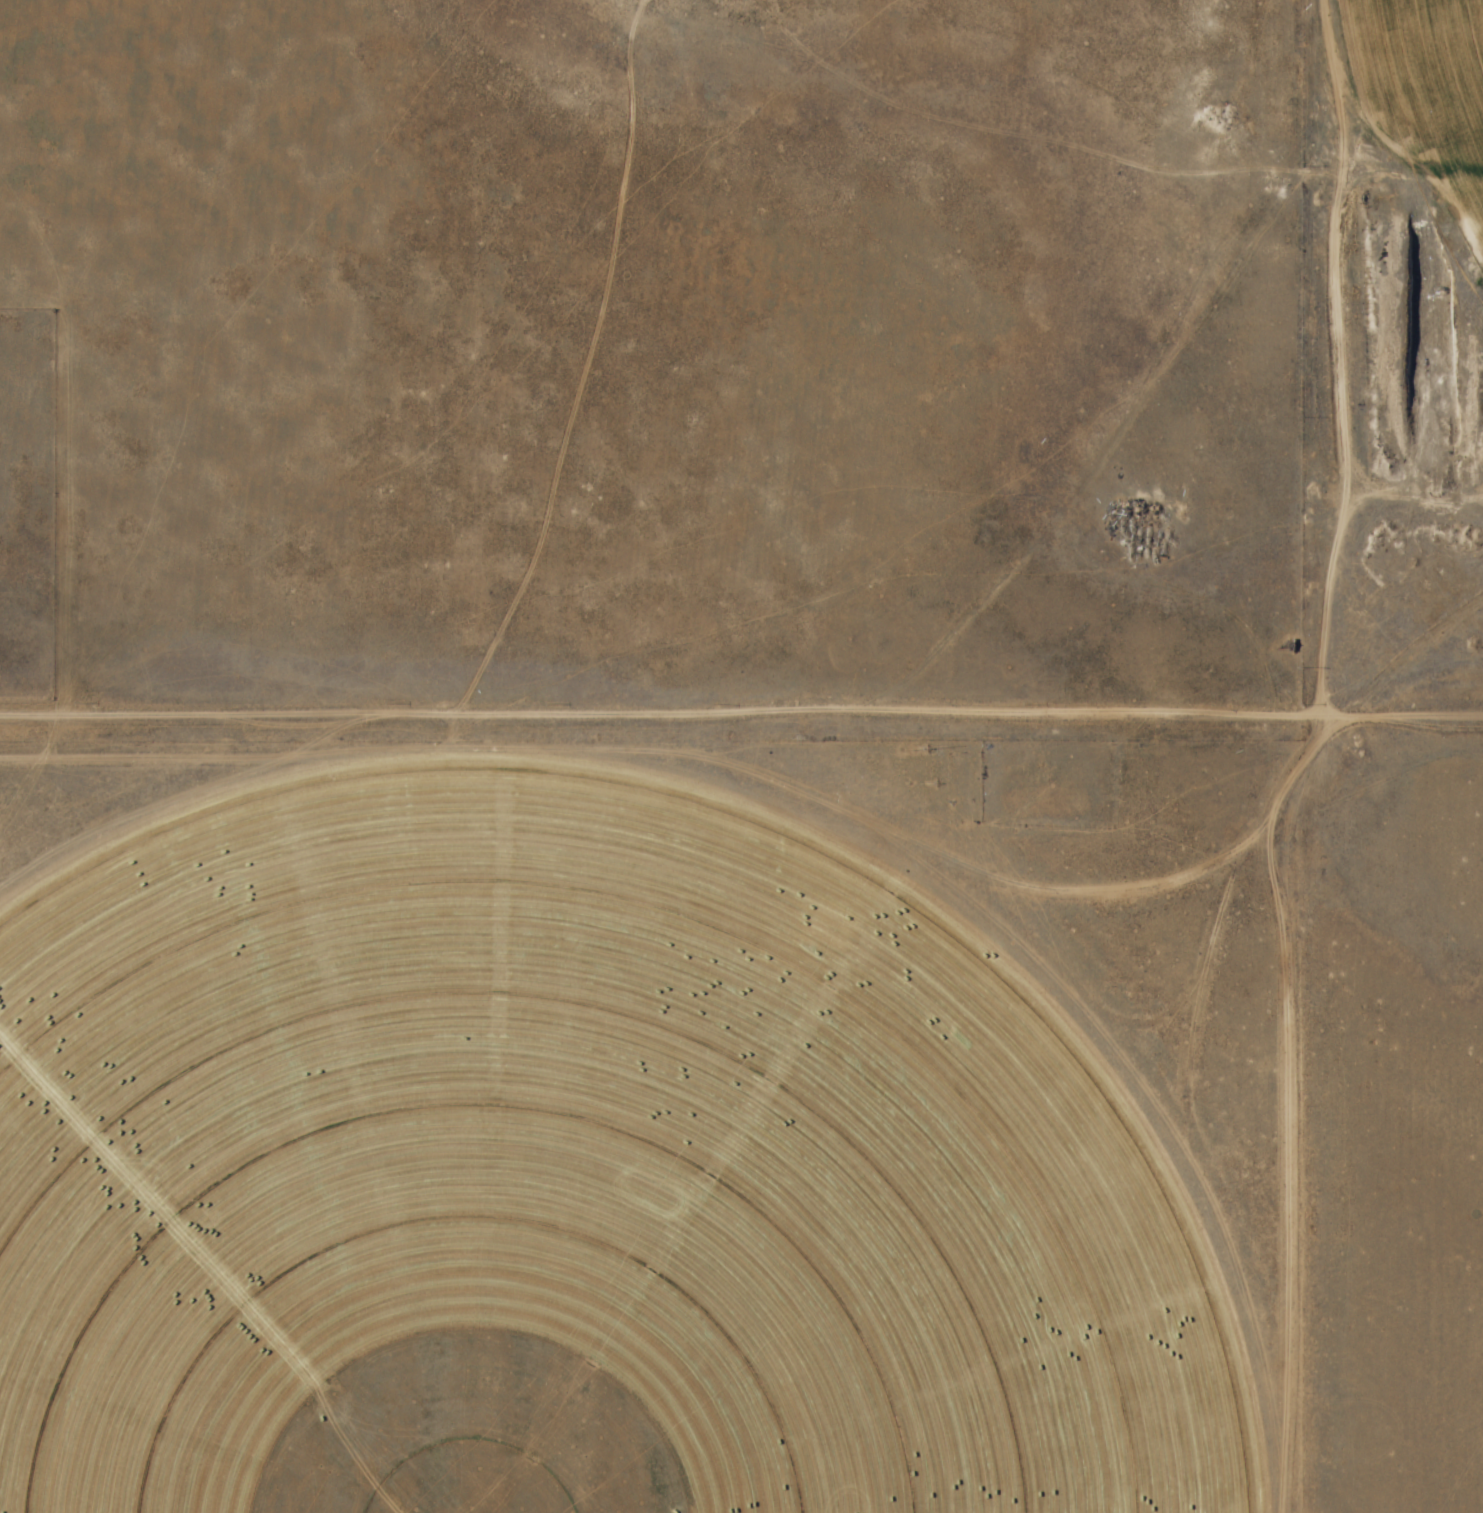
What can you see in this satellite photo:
road: (741, 697)

